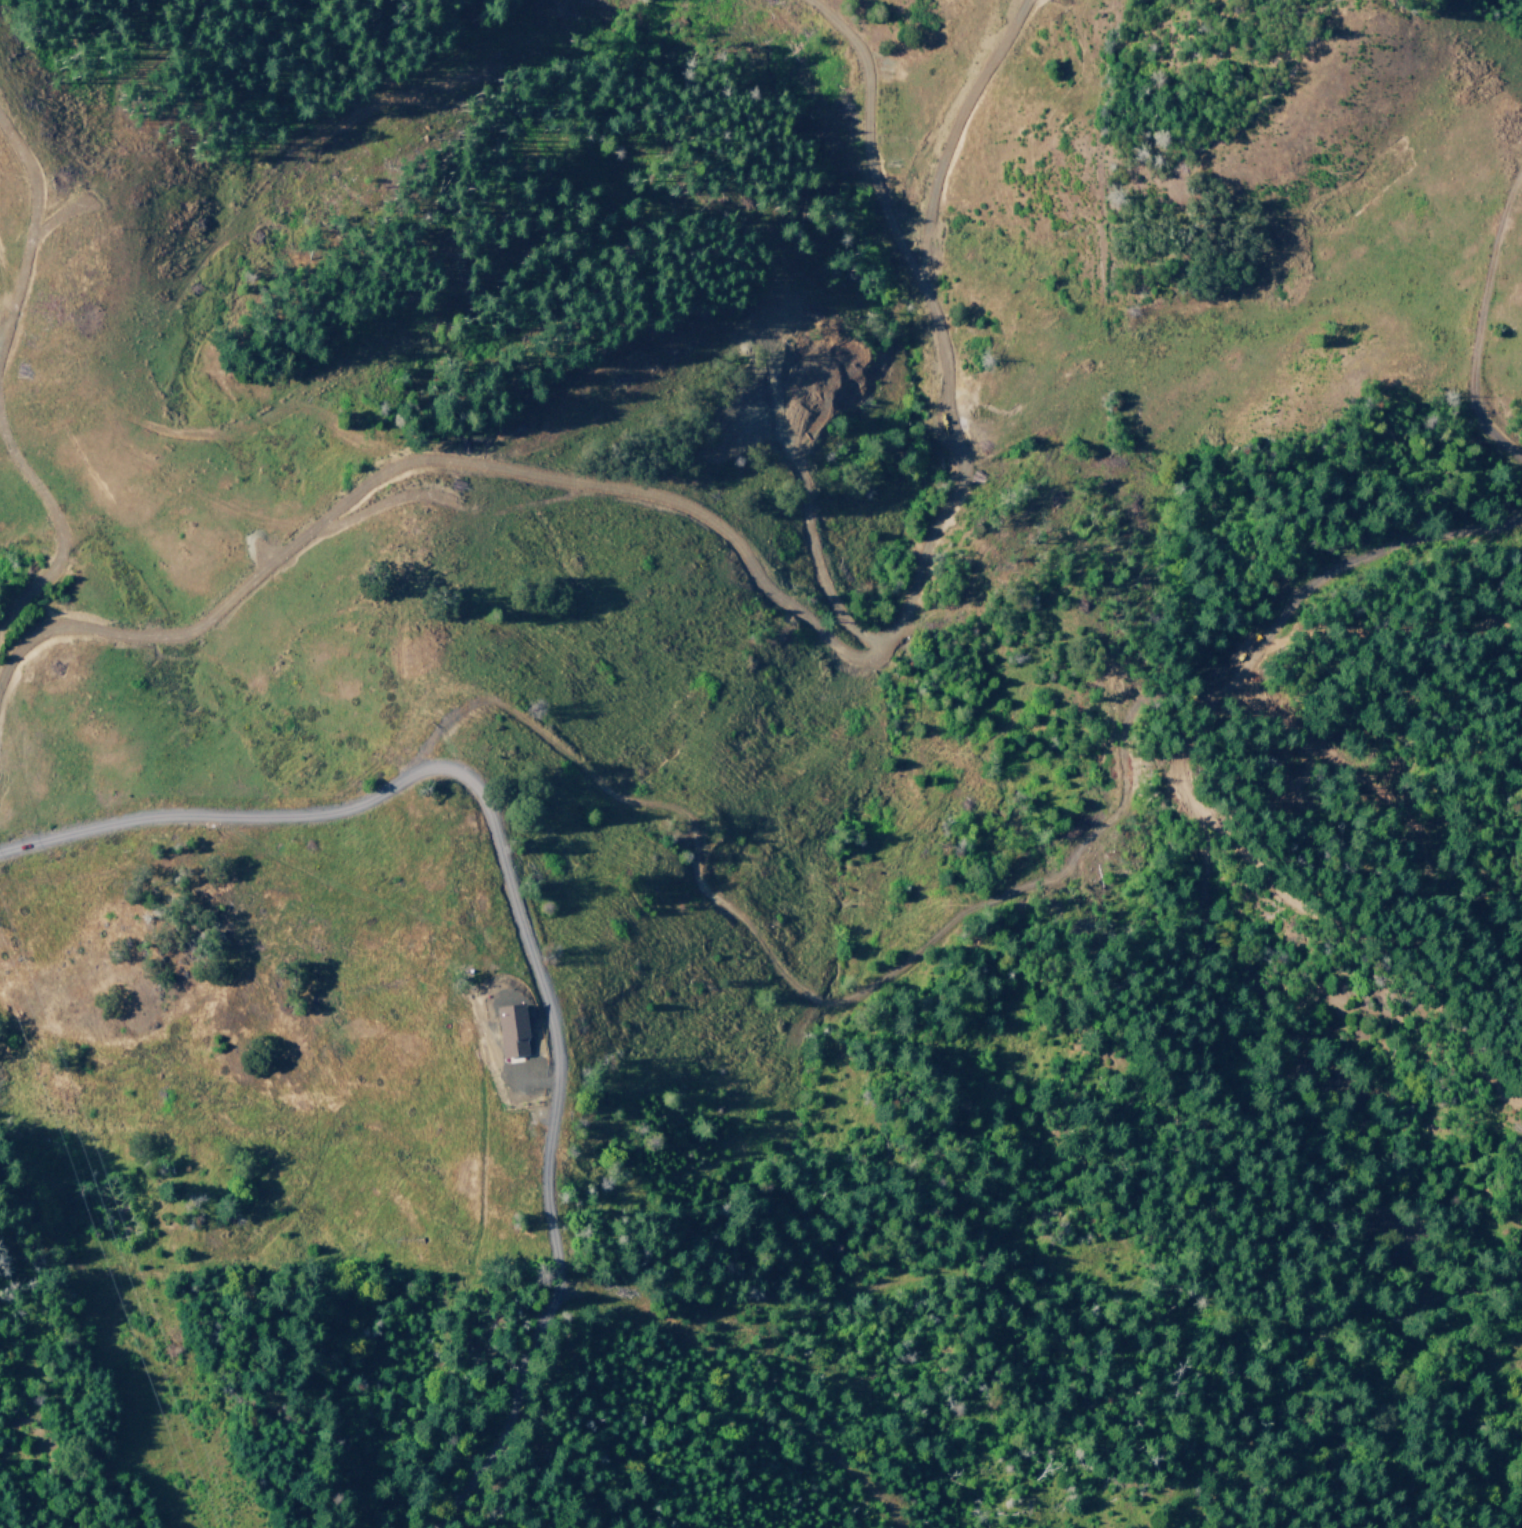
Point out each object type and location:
road: (759, 574)
building: (505, 1028)

